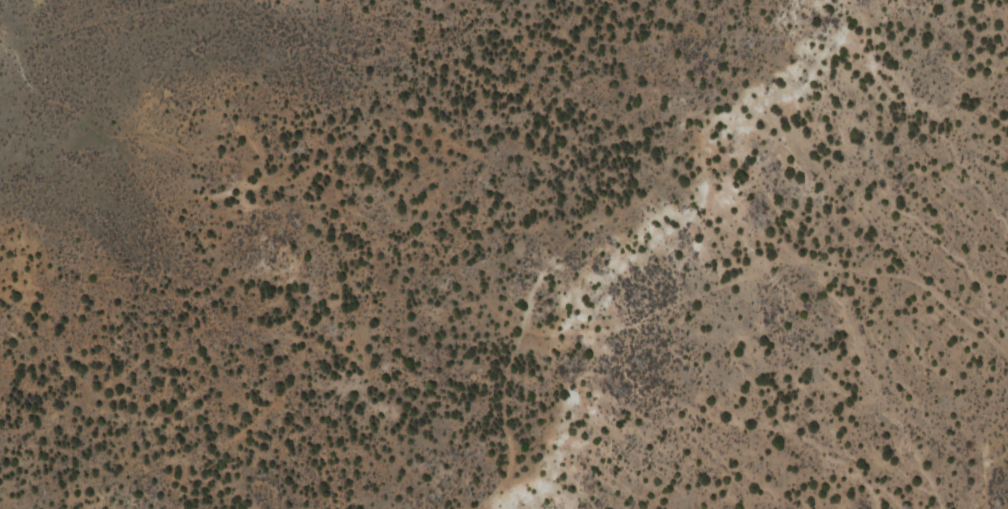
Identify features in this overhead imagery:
road: (569, 241)

